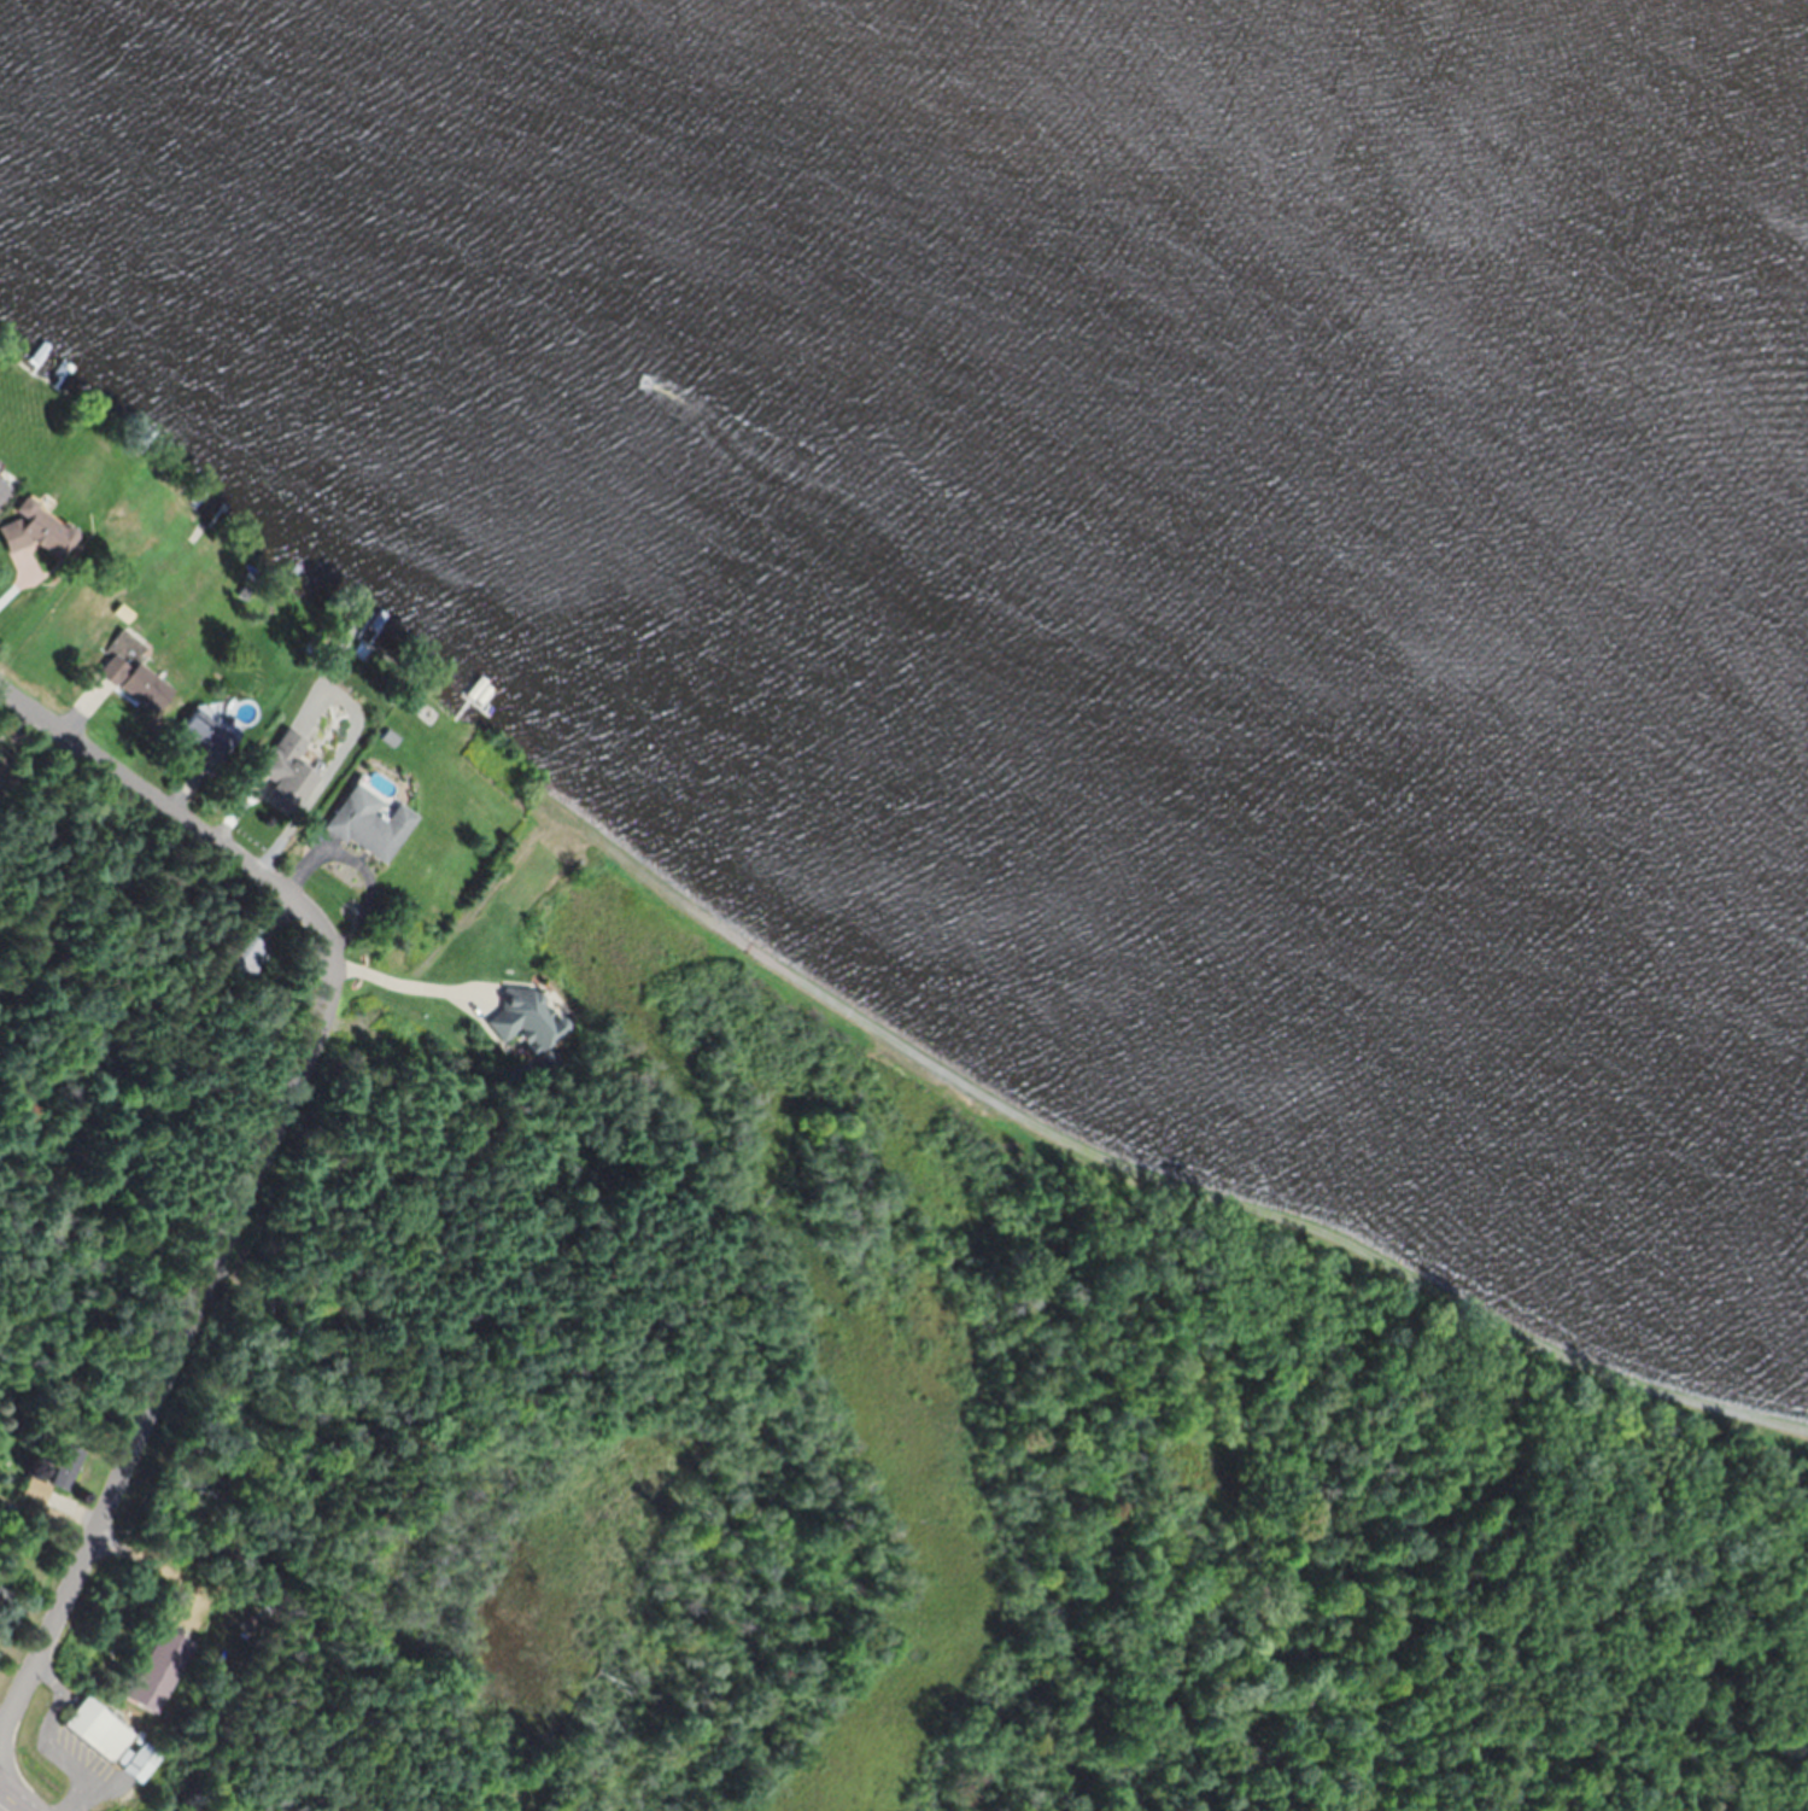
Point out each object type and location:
river: (1263, 345)
building: (25, 528)
building: (328, 659)
building: (124, 683)
building: (197, 738)
building: (275, 773)
building: (357, 822)
building: (244, 954)
building: (517, 1020)
road: (267, 1151)
building: (48, 1476)
building: (1, 1594)
building: (150, 1671)
building: (90, 1729)
building: (135, 1763)
road: (10, 1801)

